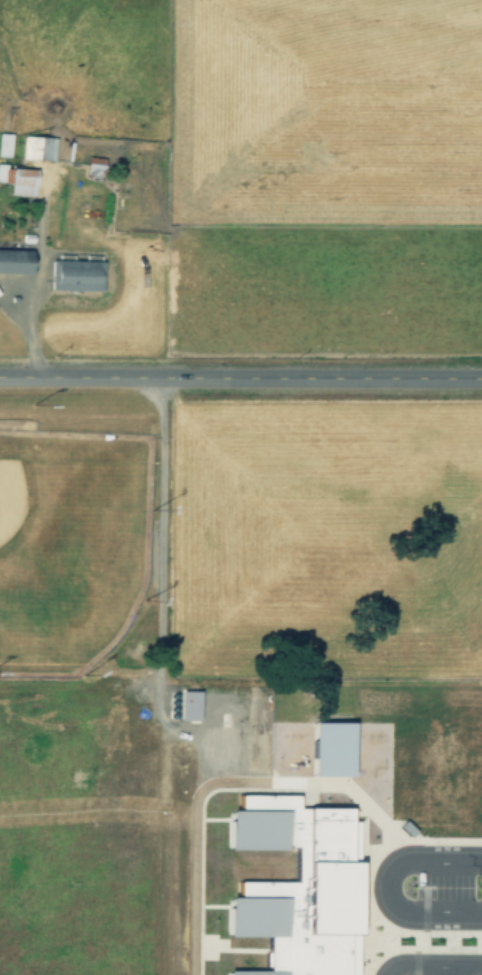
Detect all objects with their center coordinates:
building: (7, 145)
building: (39, 147)
building: (94, 165)
crop: (327, 179)
building: (22, 187)
building: (18, 262)
building: (74, 274)
road: (241, 376)
road: (153, 489)
park: (9, 494)
crop: (319, 533)
park: (71, 543)
road: (241, 674)
building: (186, 704)
road: (468, 707)
building: (329, 747)
building: (404, 785)
park: (235, 787)
building: (469, 810)
road: (153, 824)
building: (436, 833)
track: (268, 853)
road: (375, 879)
building: (297, 886)
road: (420, 895)
road: (431, 915)
road: (435, 933)
parking lot: (456, 939)
building: (393, 950)
park: (218, 965)
road: (446, 966)
road: (414, 967)

